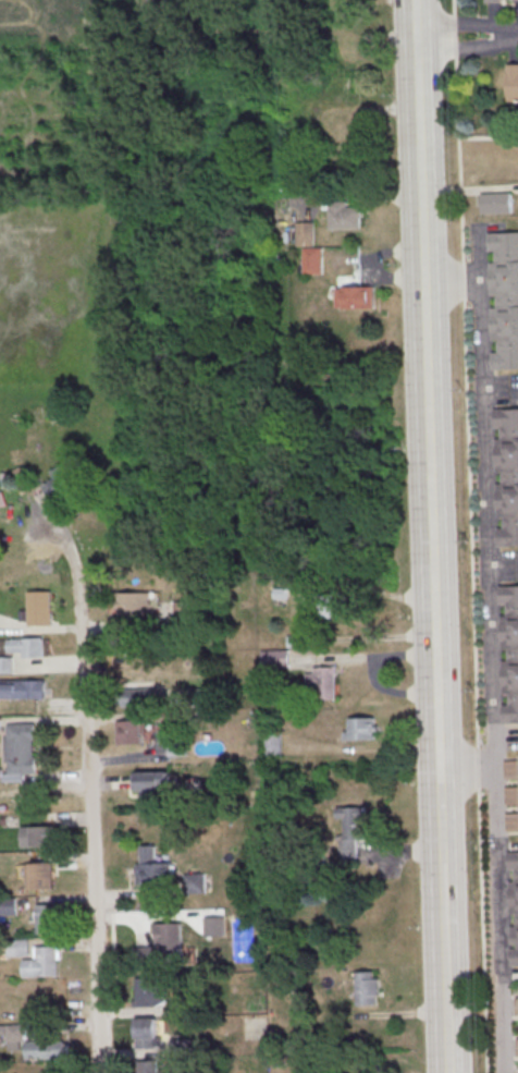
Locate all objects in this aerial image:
building: (494, 0)
building: (516, 1)
road: (468, 37)
building: (513, 84)
road: (486, 137)
building: (496, 203)
building: (346, 217)
building: (307, 235)
building: (314, 261)
building: (505, 297)
building: (357, 298)
road: (427, 443)
building: (507, 474)
building: (59, 484)
road: (470, 536)
building: (281, 594)
building: (134, 603)
building: (325, 608)
building: (41, 609)
building: (184, 611)
building: (296, 642)
building: (27, 648)
building: (510, 649)
building: (276, 660)
building: (7, 666)
building: (324, 683)
building: (23, 691)
building: (137, 696)
building: (363, 730)
building: (131, 734)
building: (20, 742)
building: (510, 771)
building: (151, 783)
building: (511, 797)
building: (511, 822)
road: (90, 829)
building: (350, 832)
building: (38, 836)
building: (151, 875)
building: (39, 877)
building: (196, 882)
building: (514, 894)
building: (8, 906)
building: (48, 920)
building: (170, 943)
building: (23, 949)
building: (48, 959)
building: (515, 959)
road: (441, 979)
building: (368, 989)
building: (150, 990)
building: (517, 1026)
building: (148, 1035)
building: (29, 1044)
building: (149, 1068)

